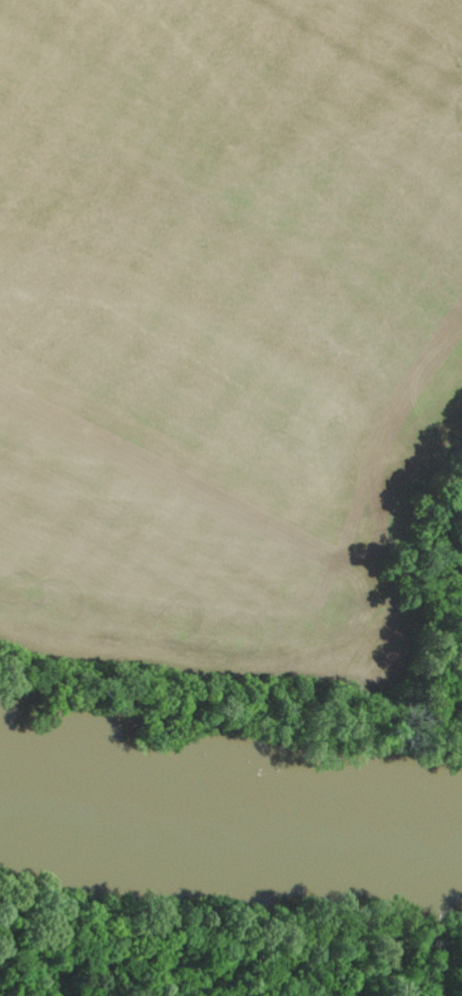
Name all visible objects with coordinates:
river: (231, 796)

